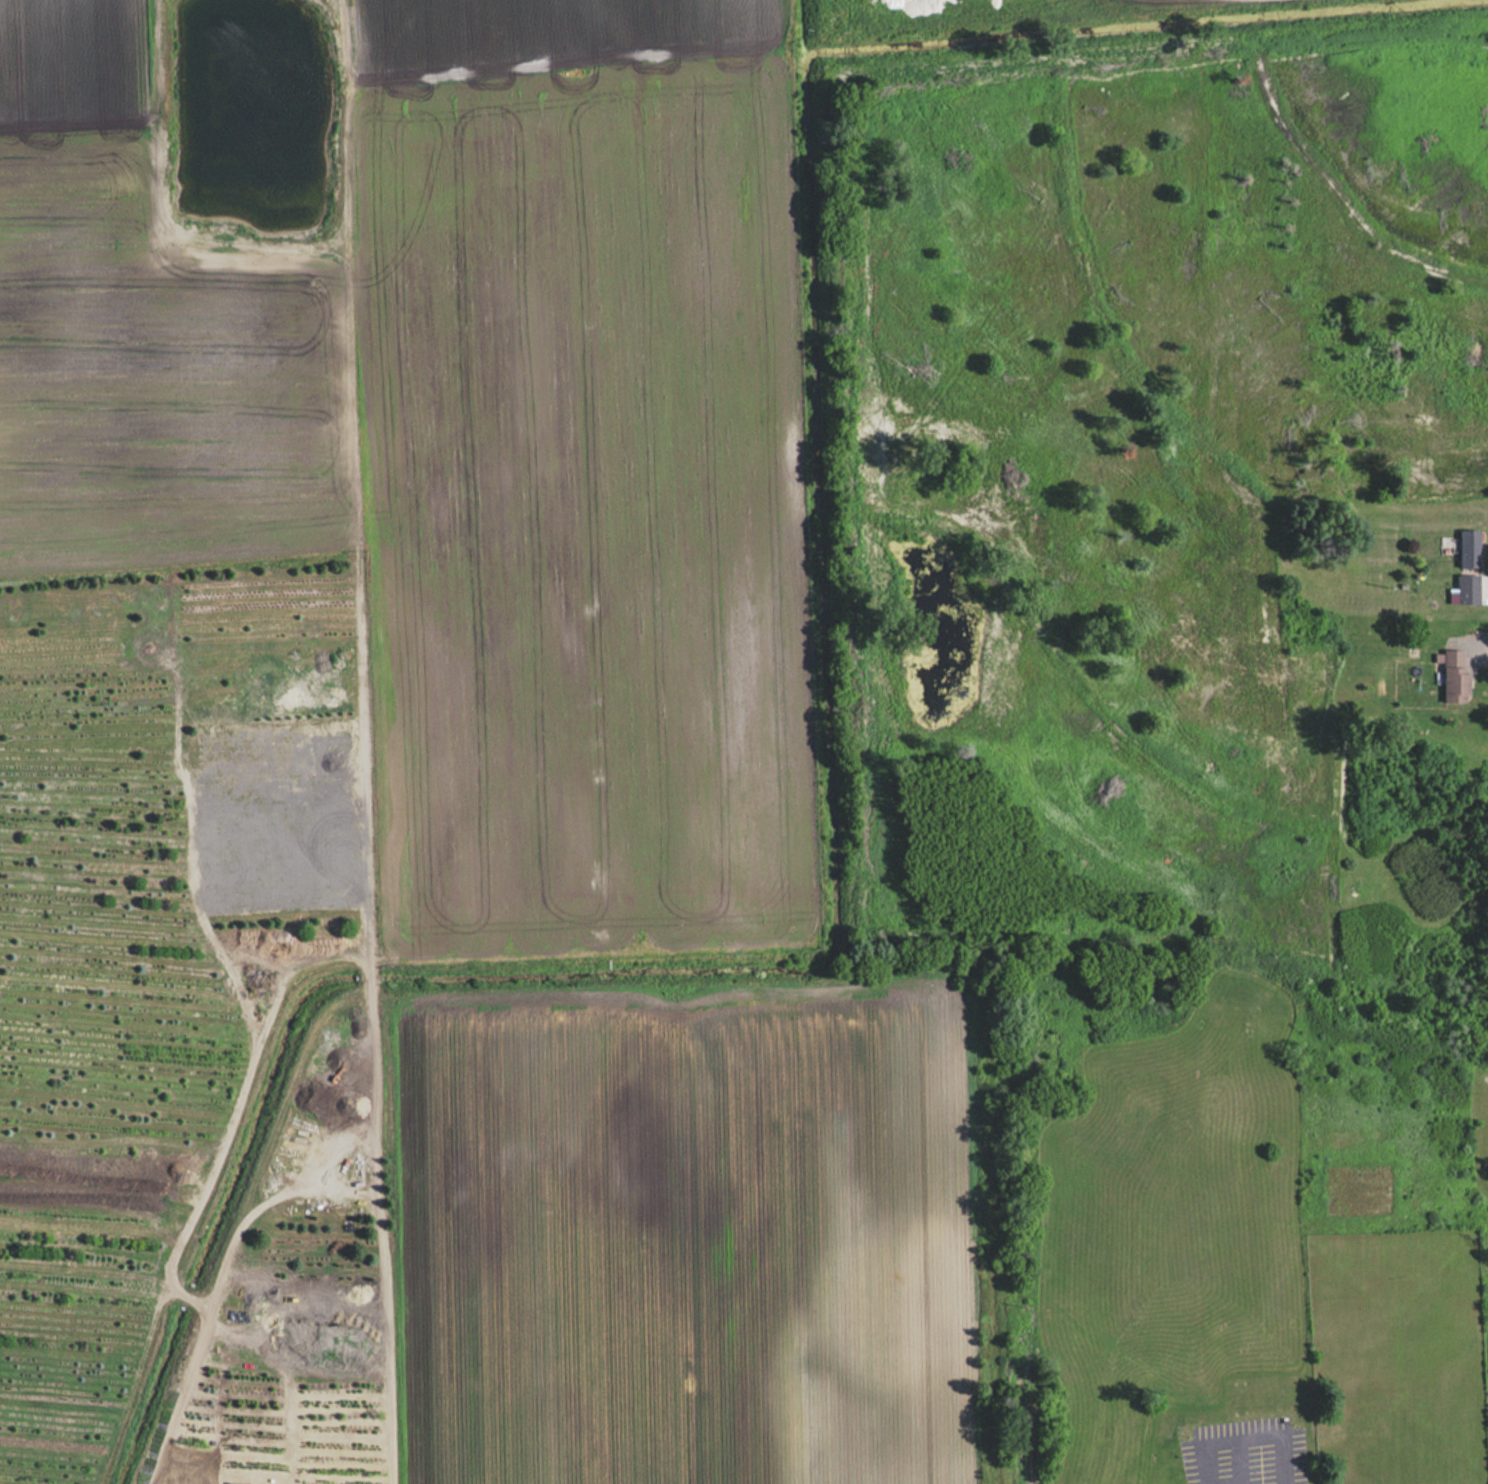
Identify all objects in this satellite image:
building: (1469, 548)
building: (1466, 589)
road: (1480, 651)
building: (1454, 677)
road: (1249, 1437)

